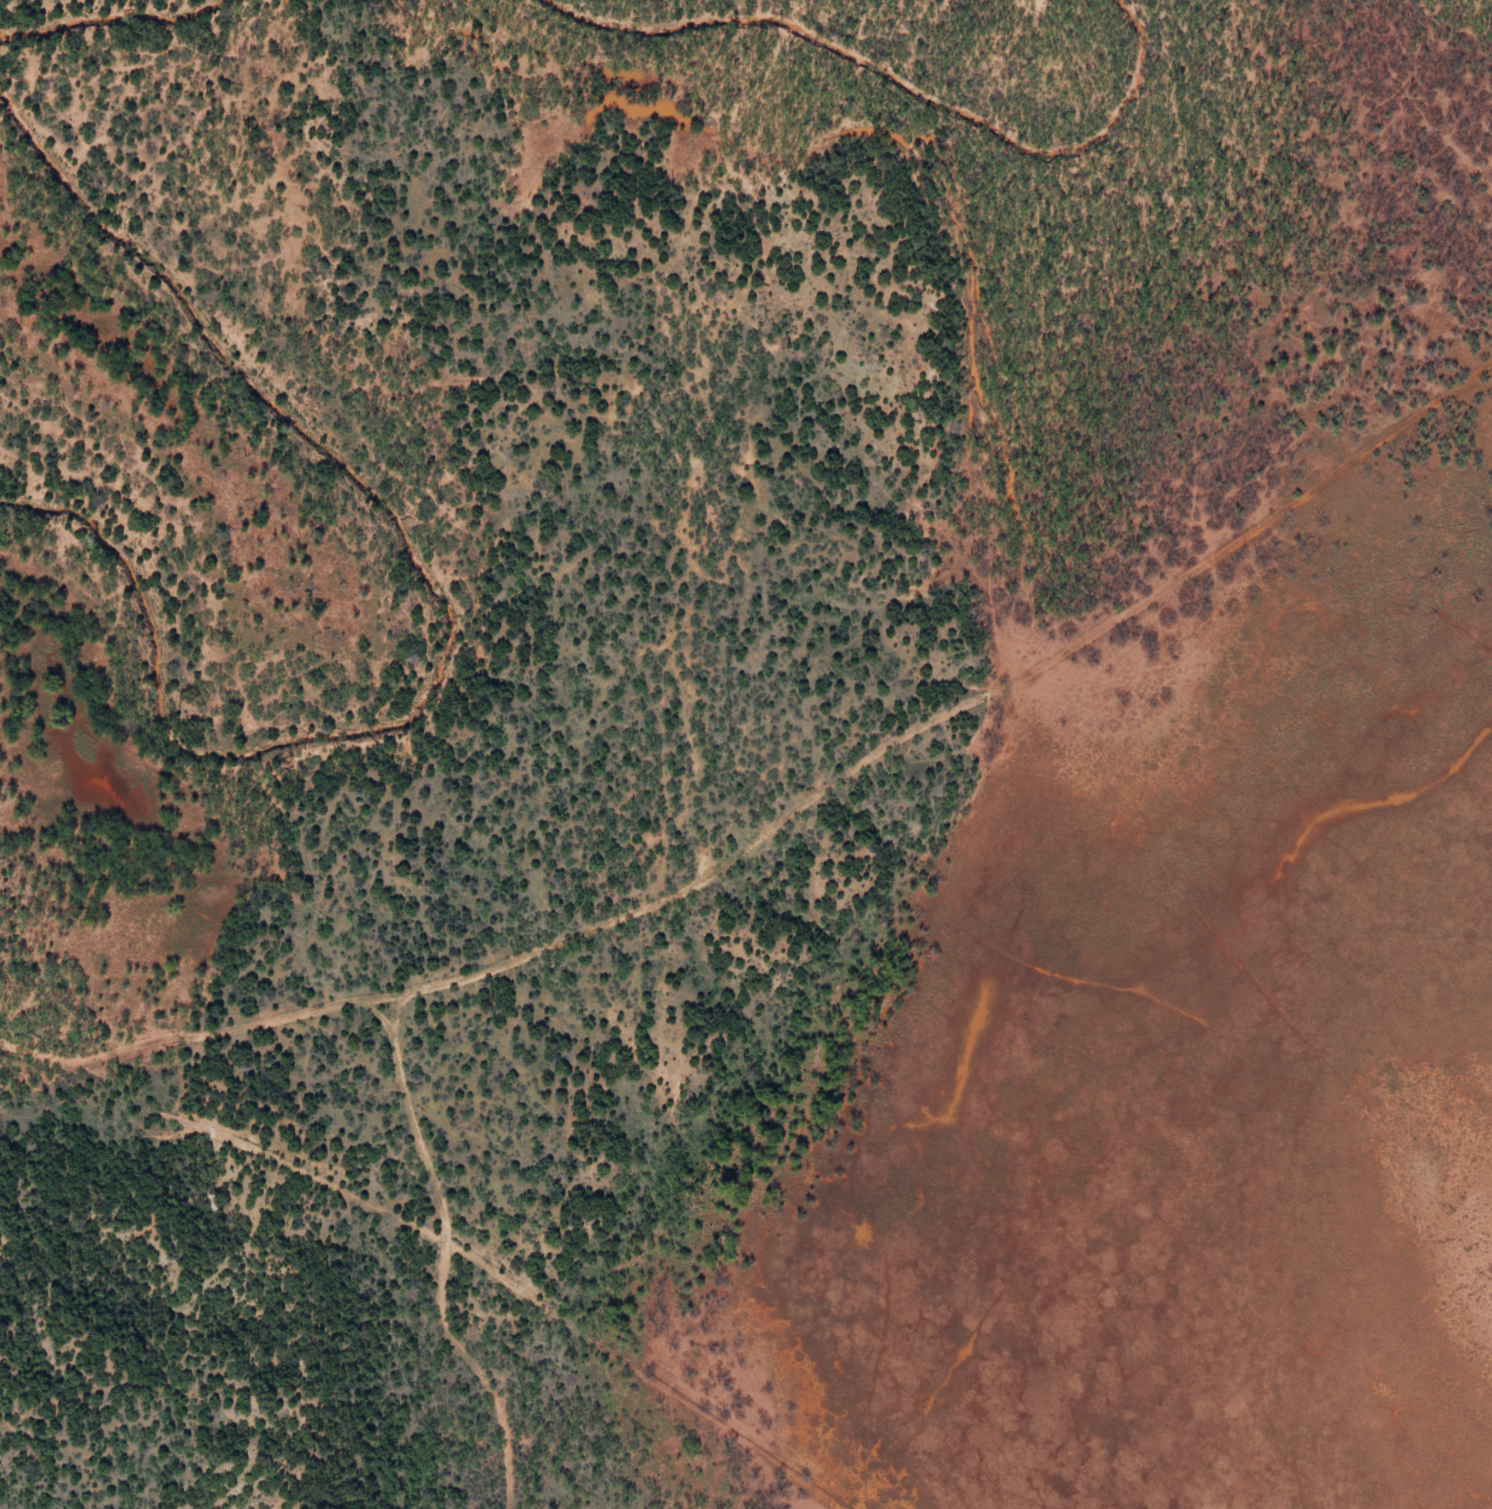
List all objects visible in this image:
road: (648, 827)
road: (156, 1112)

